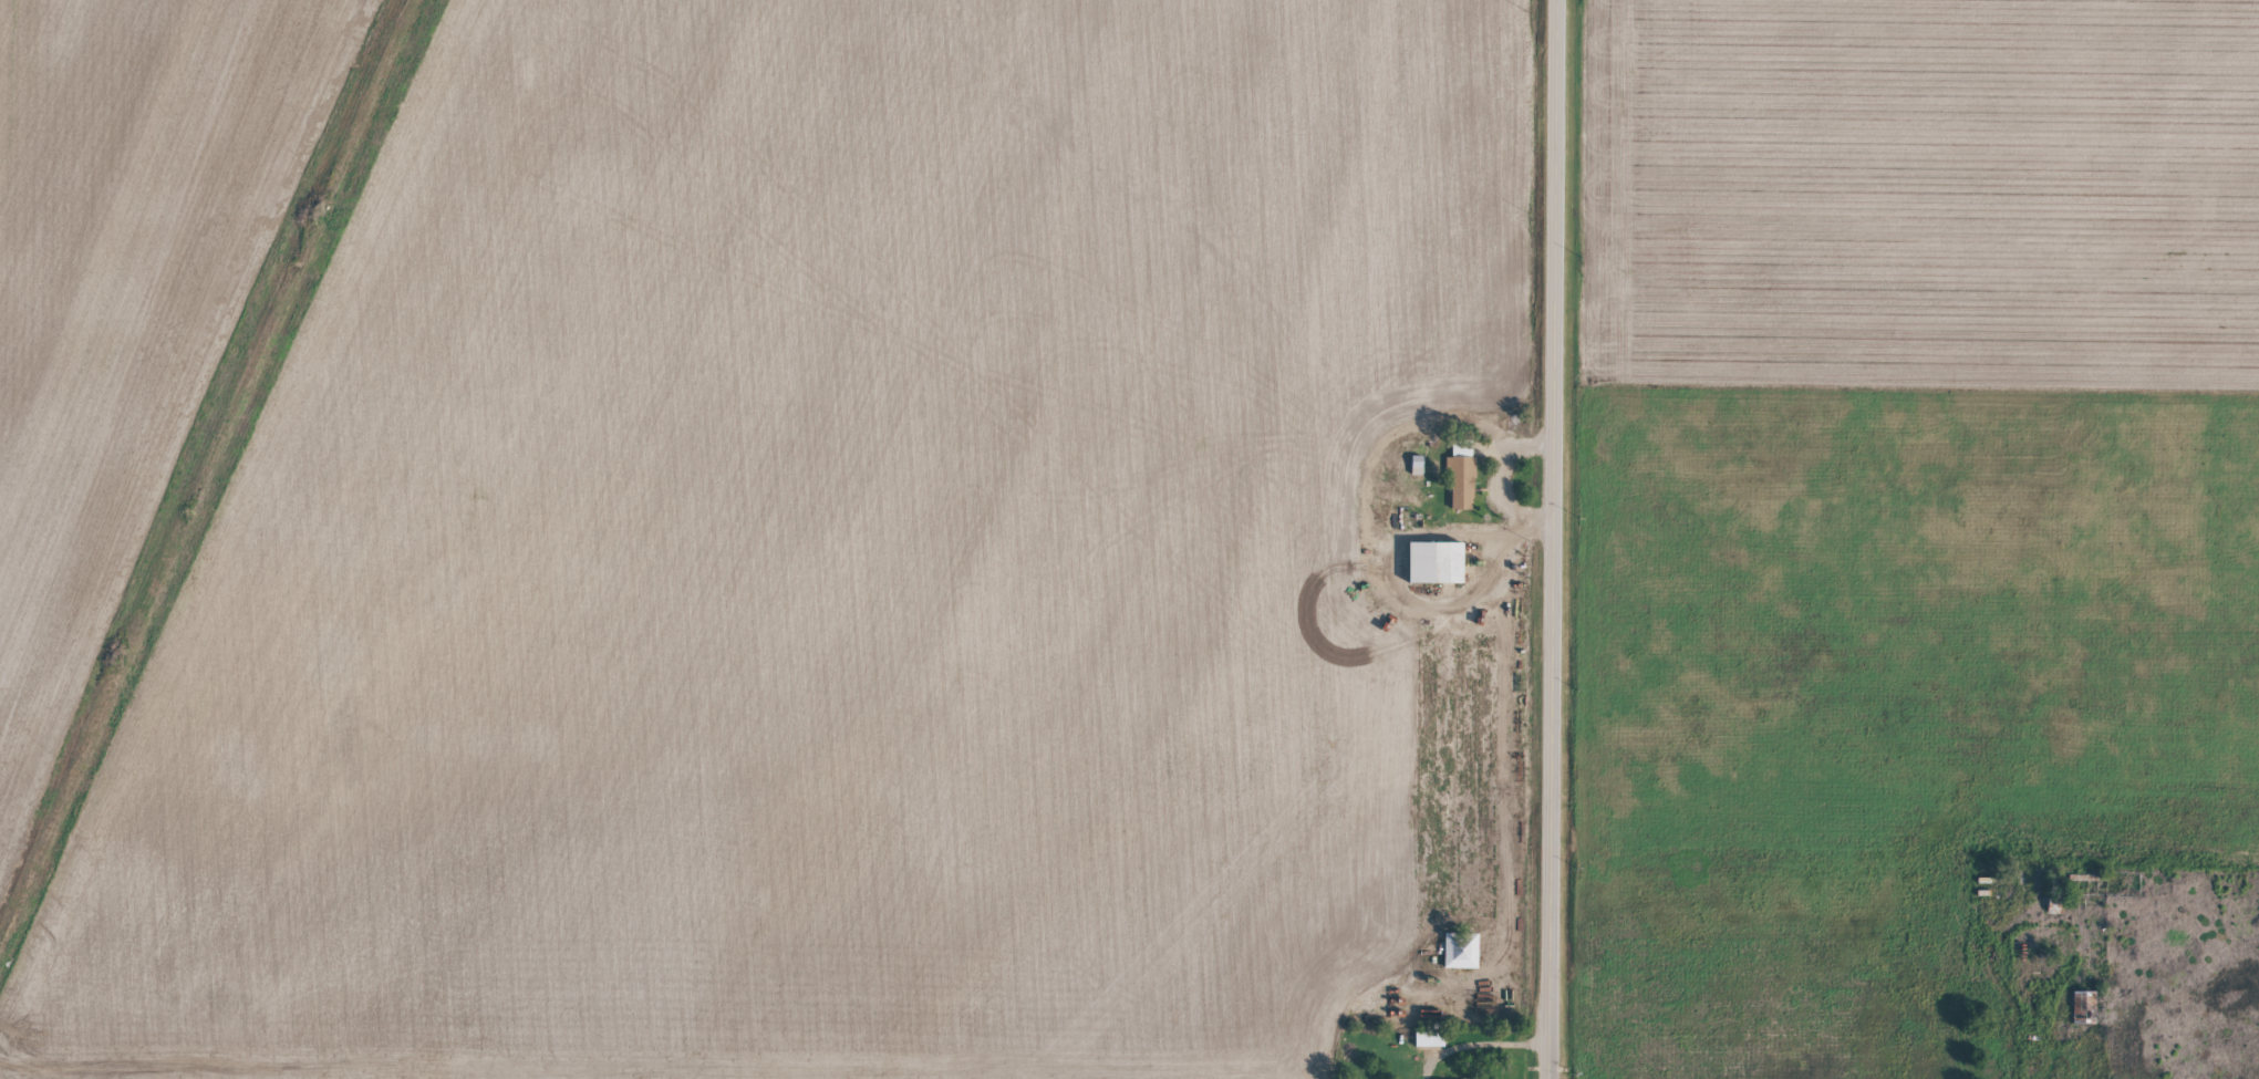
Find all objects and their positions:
railway: (210, 467)
building: (1418, 474)
building: (1462, 486)
road: (1553, 539)
building: (1439, 571)
building: (1461, 961)
building: (2085, 1013)
building: (1430, 1048)

